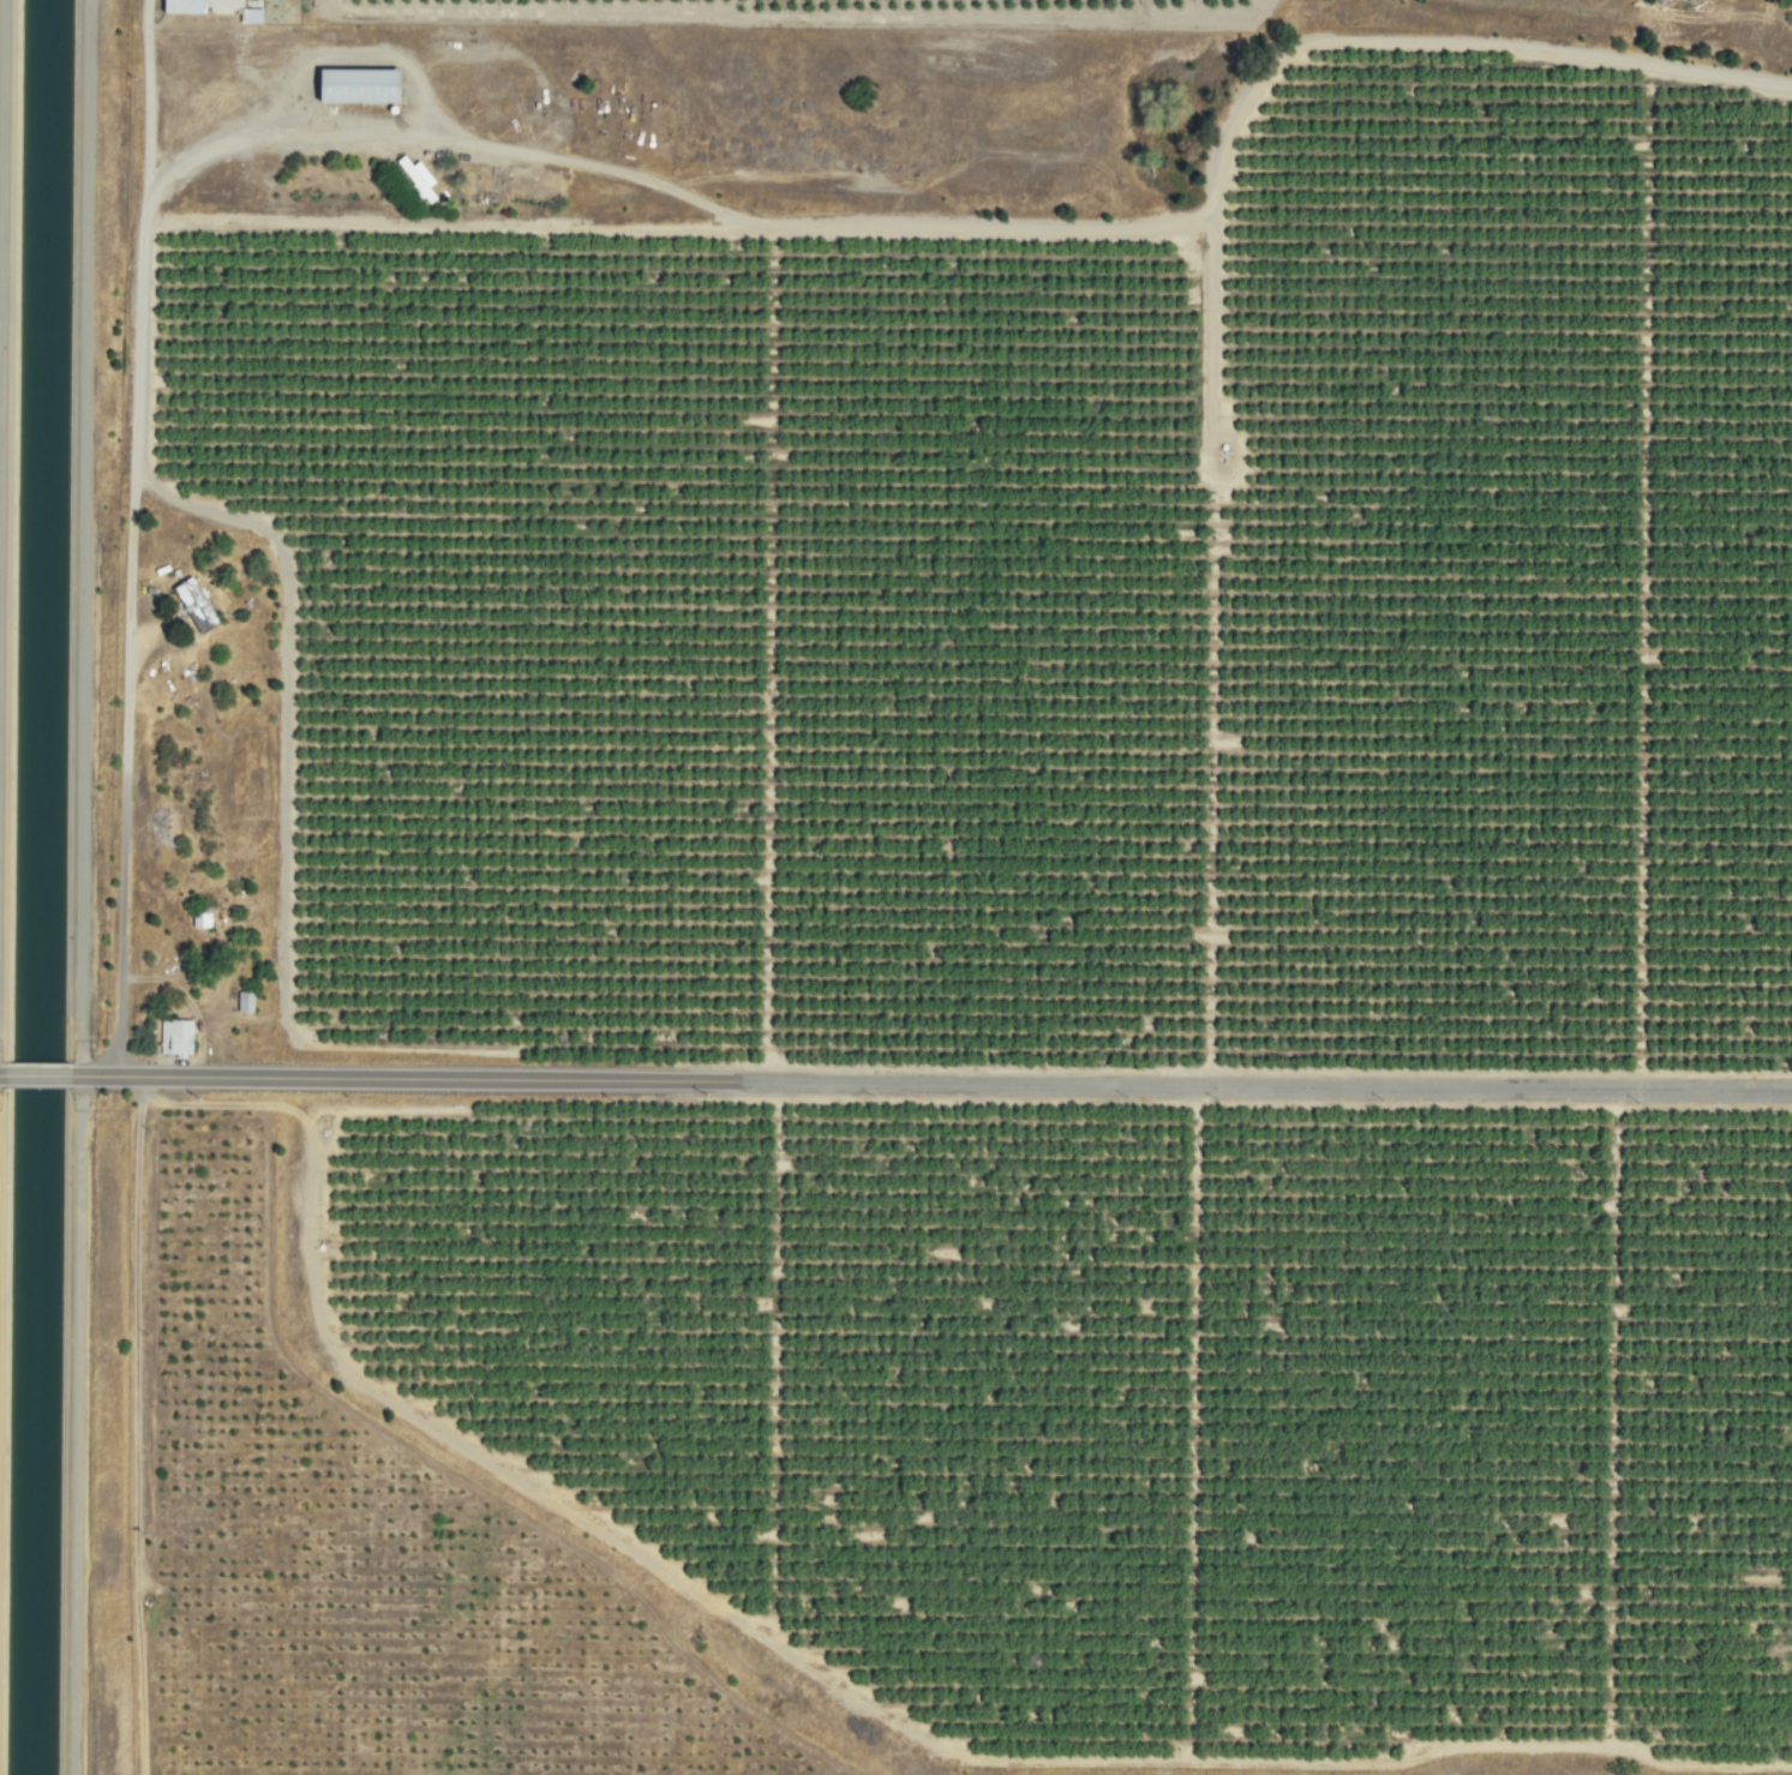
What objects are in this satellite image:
building: (208, 7)
building: (352, 85)
building: (414, 178)
road: (82, 538)
building: (191, 605)
building: (198, 921)
building: (242, 1002)
building: (173, 1038)
road: (0, 1075)
road: (35, 1075)
road: (930, 1080)

